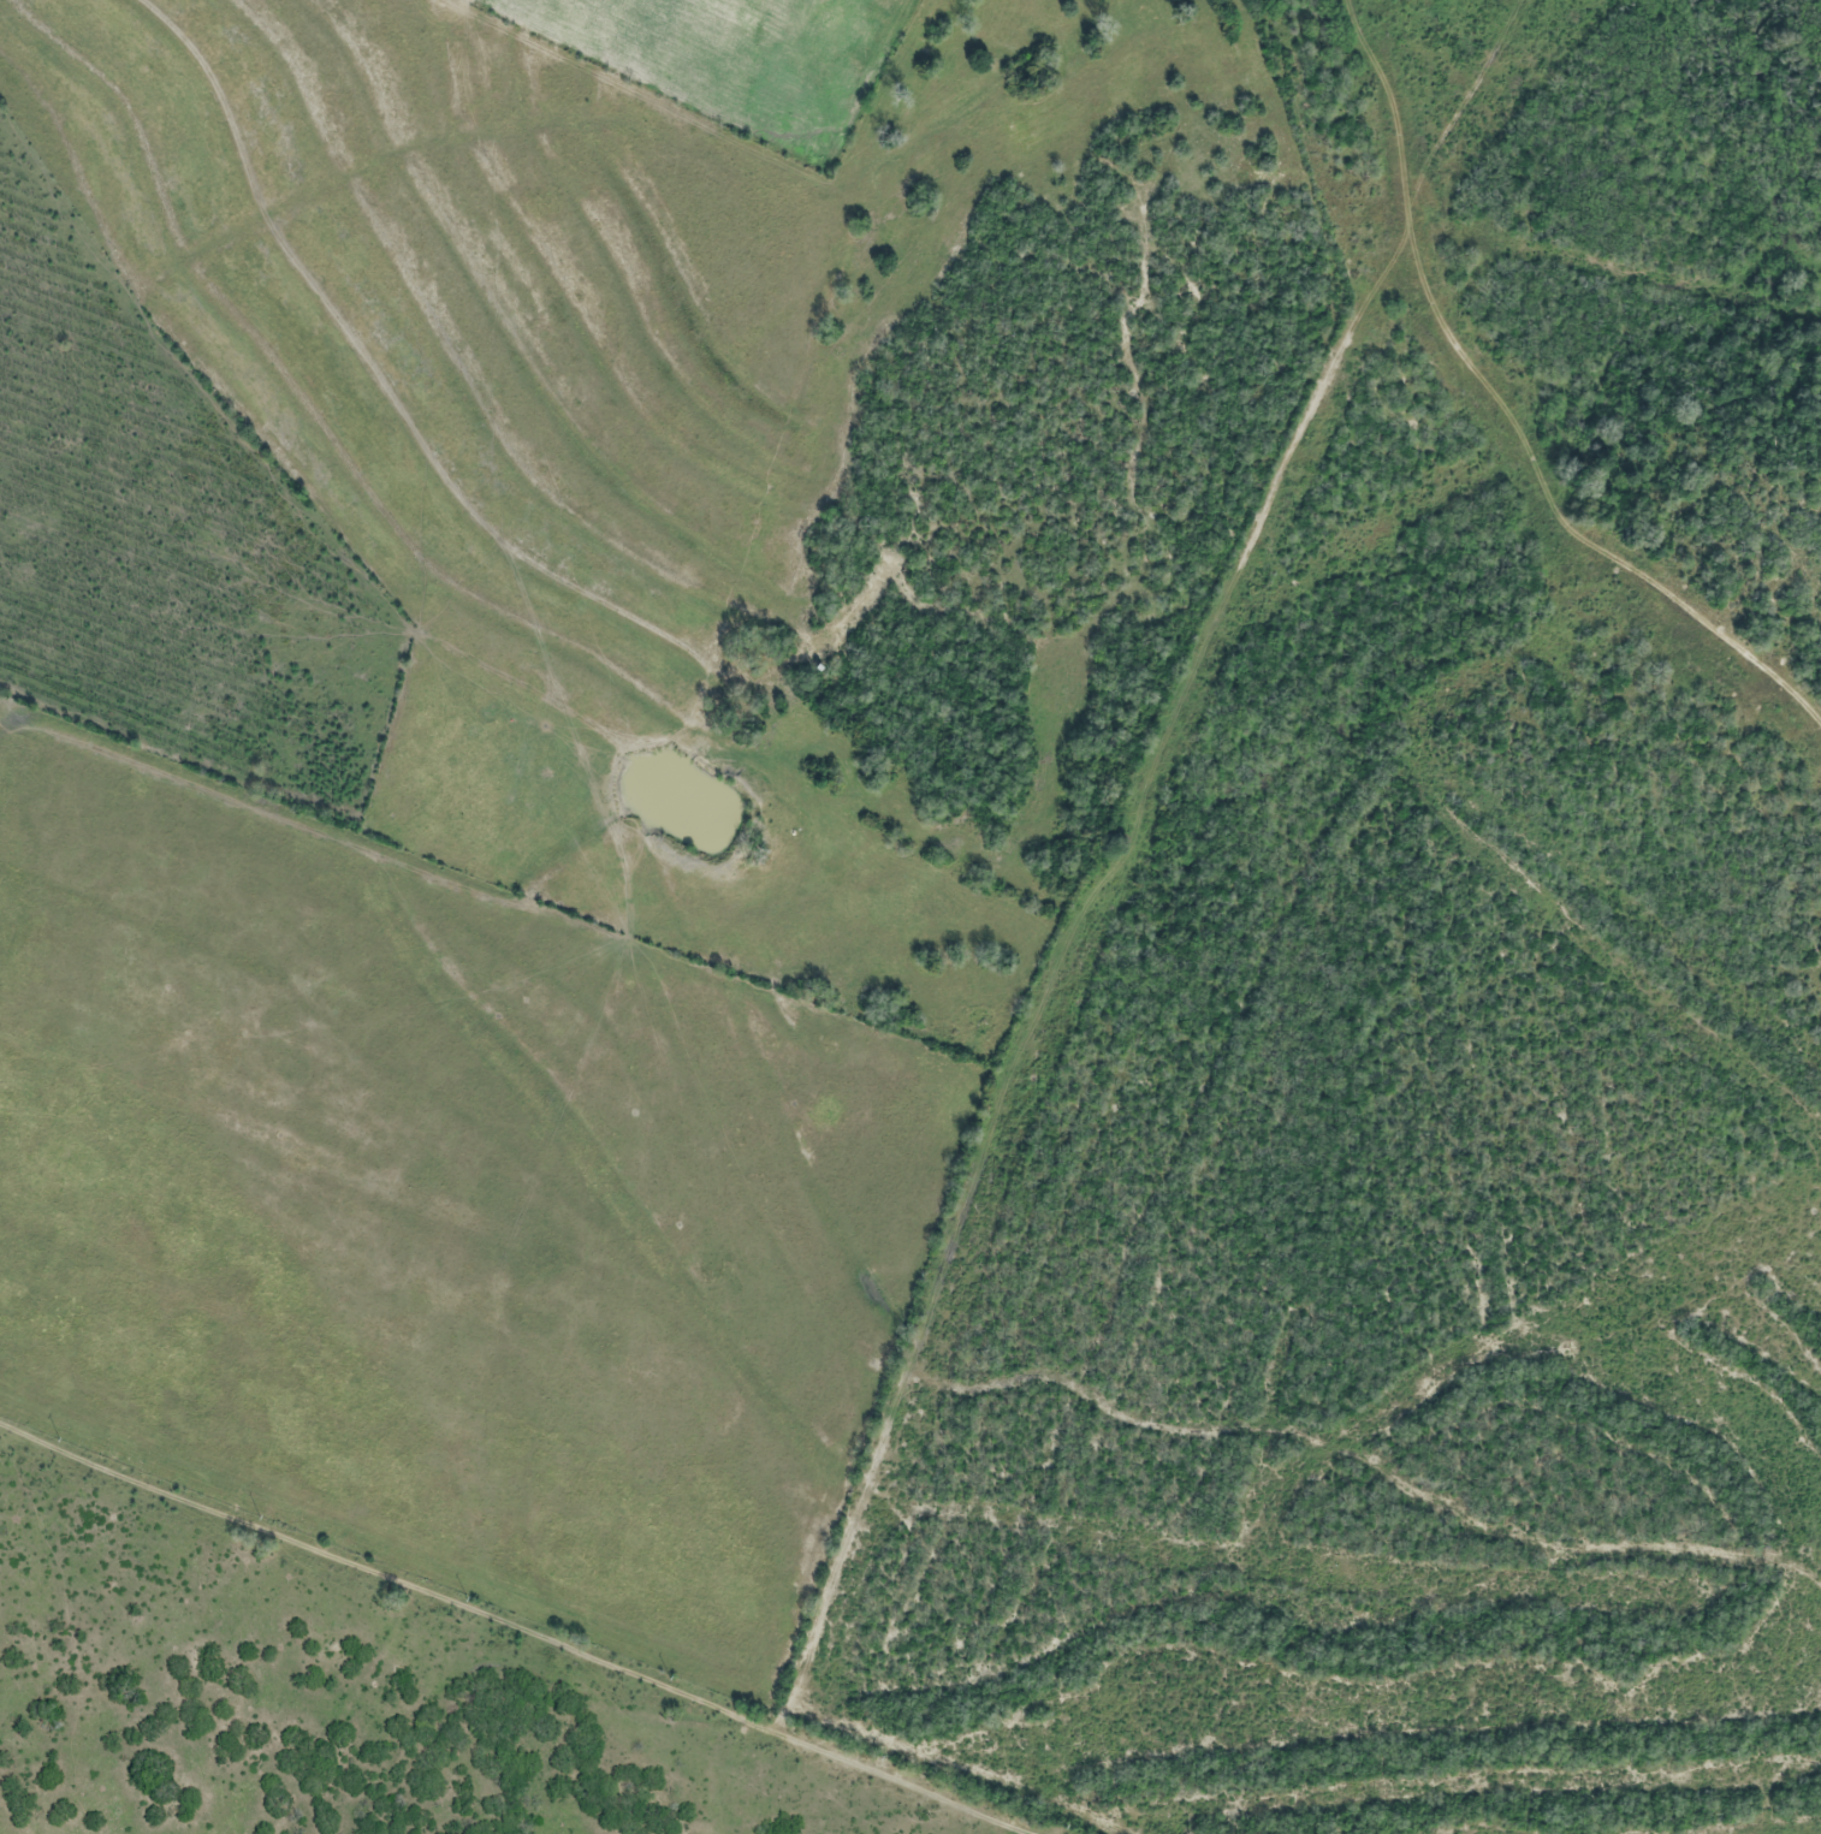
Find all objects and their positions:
road: (1512, 416)

